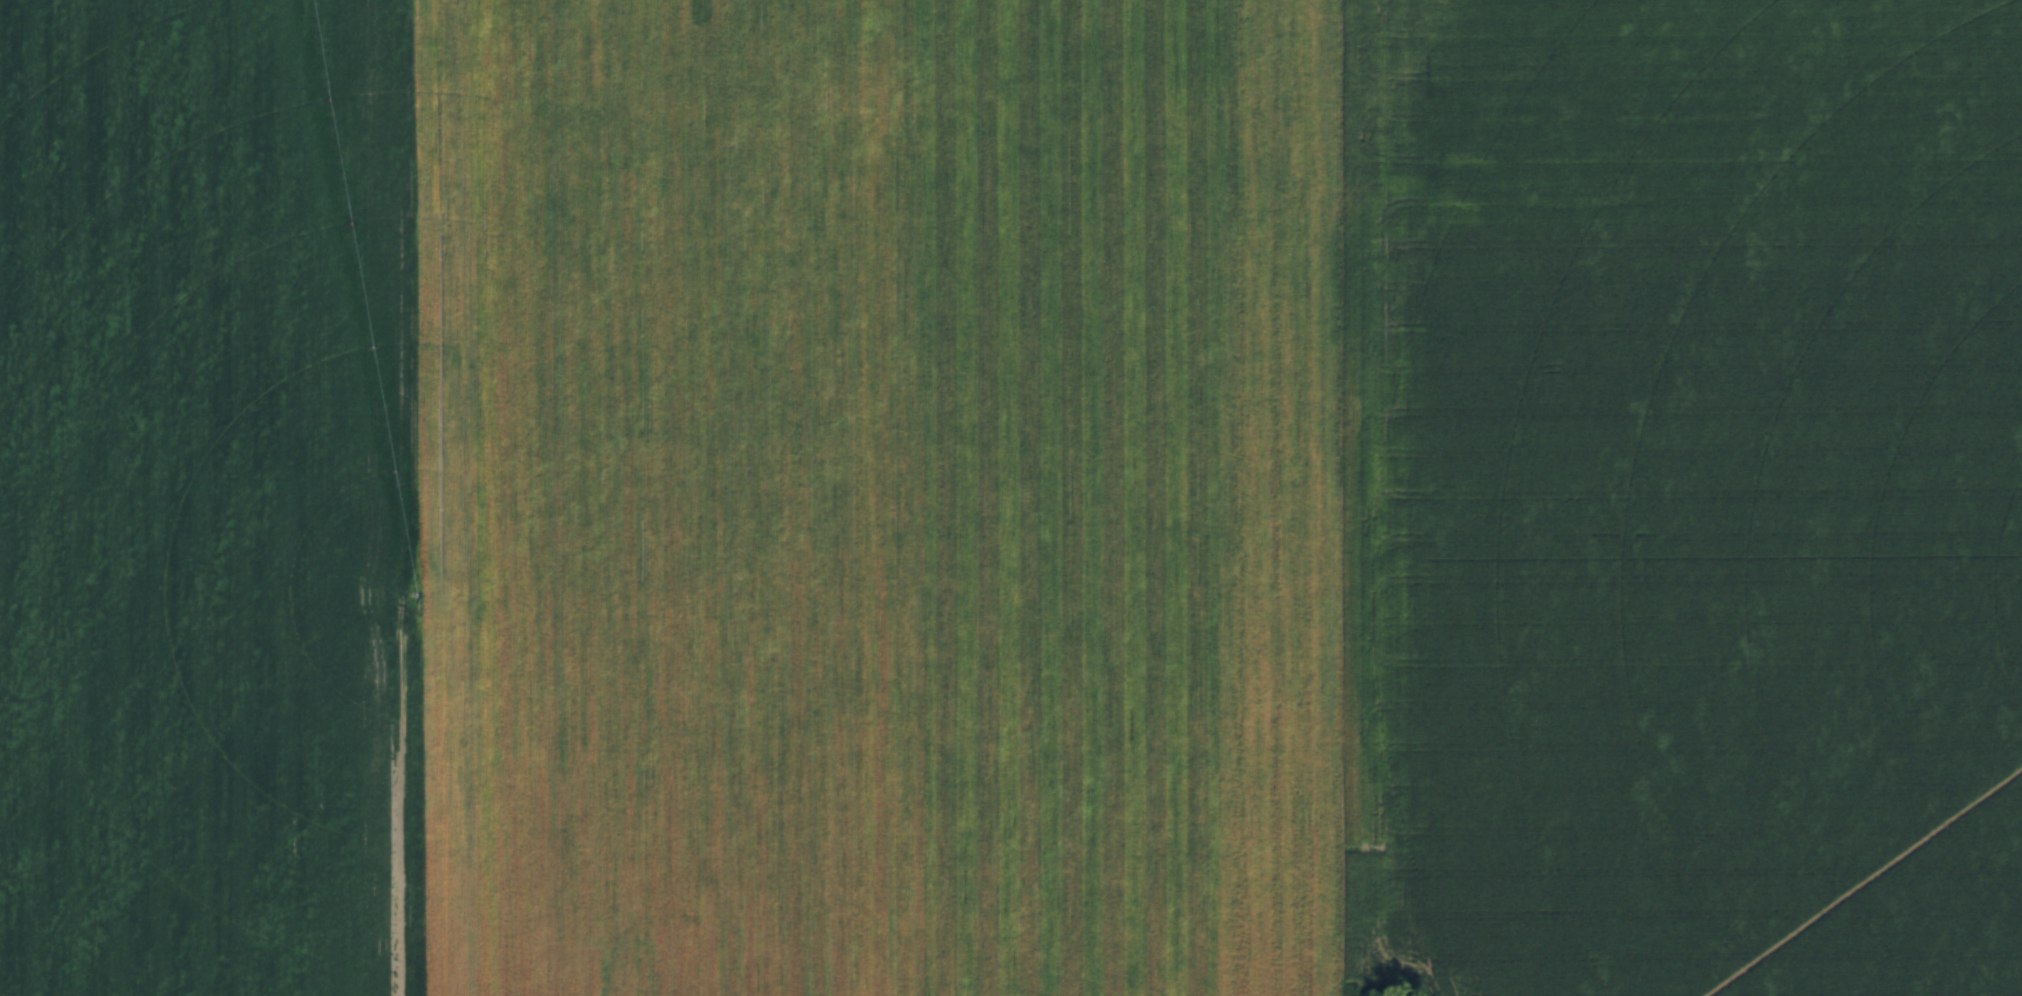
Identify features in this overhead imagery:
crop: (669, 497)

